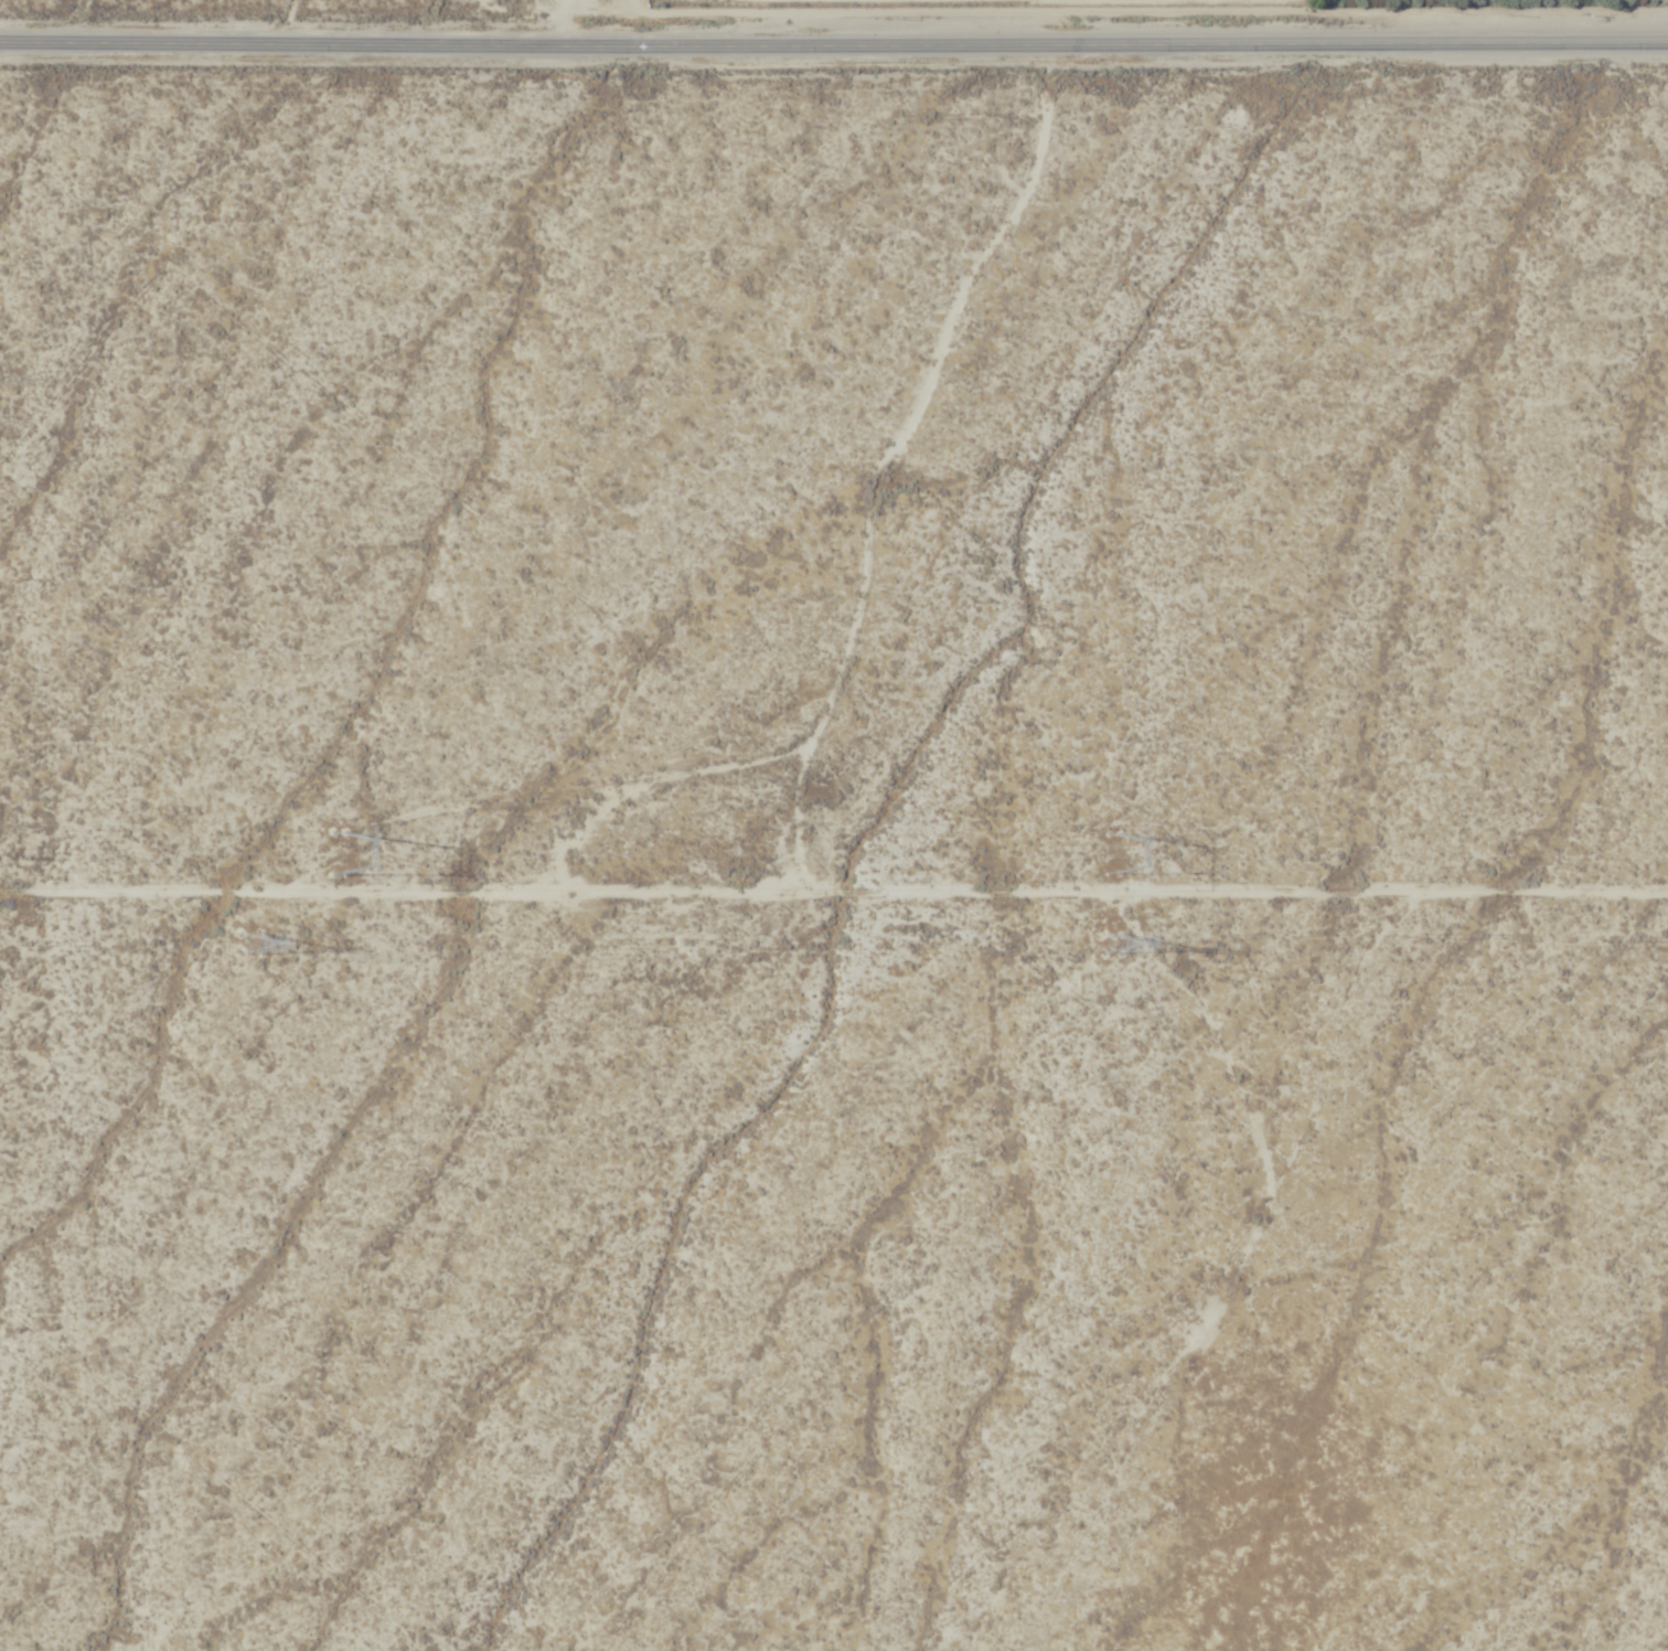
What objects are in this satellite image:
landfill: (1114, 30)
road: (834, 38)
power tower: (343, 846)
power tower: (1121, 854)
power tower: (252, 944)
power tower: (1103, 944)

